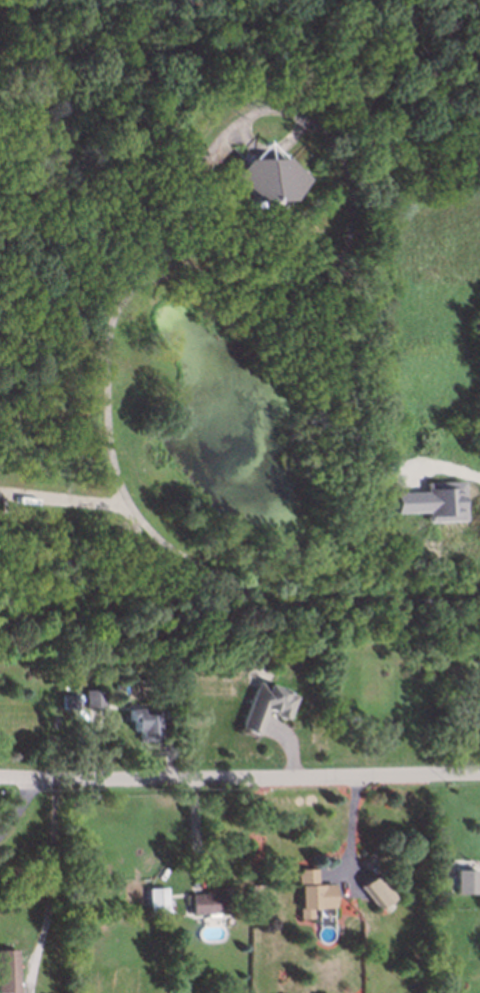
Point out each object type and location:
building: (262, 174)
road: (350, 204)
road: (479, 468)
road: (124, 499)
building: (433, 501)
building: (121, 685)
building: (163, 695)
building: (66, 696)
building: (92, 698)
building: (264, 699)
building: (140, 722)
road: (239, 774)
road: (14, 803)
road: (353, 825)
road: (196, 827)
building: (466, 881)
road: (53, 886)
building: (372, 888)
building: (309, 890)
building: (152, 898)
building: (206, 900)
building: (409, 959)
building: (7, 968)

